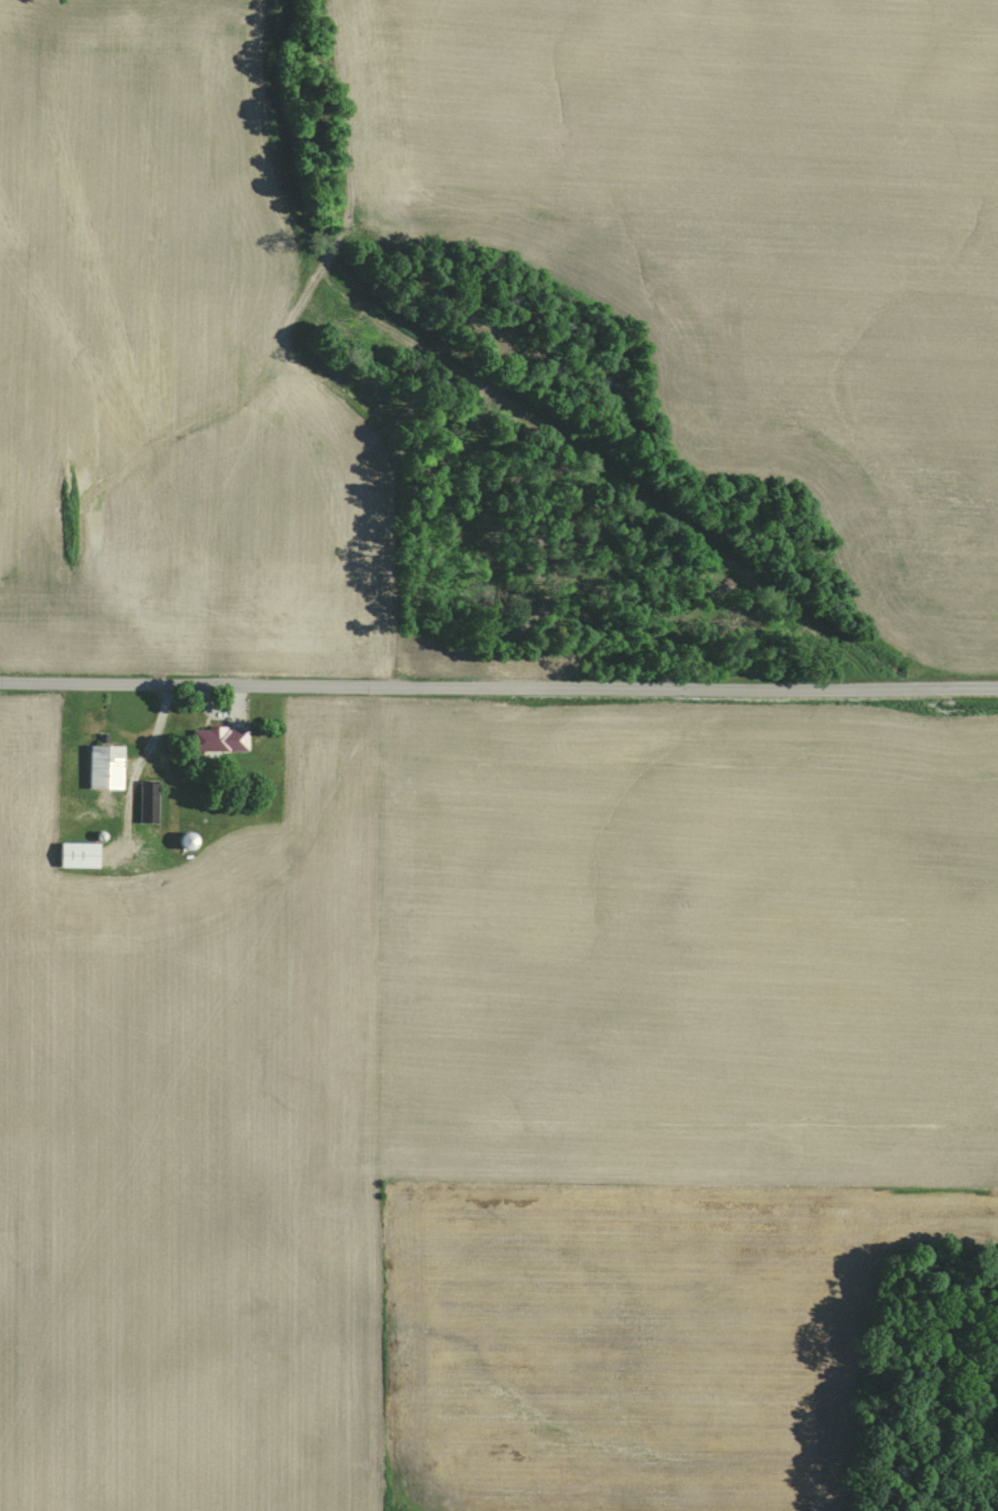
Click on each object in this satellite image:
road: (498, 688)
building: (216, 740)
building: (107, 767)
building: (149, 802)
building: (79, 855)

